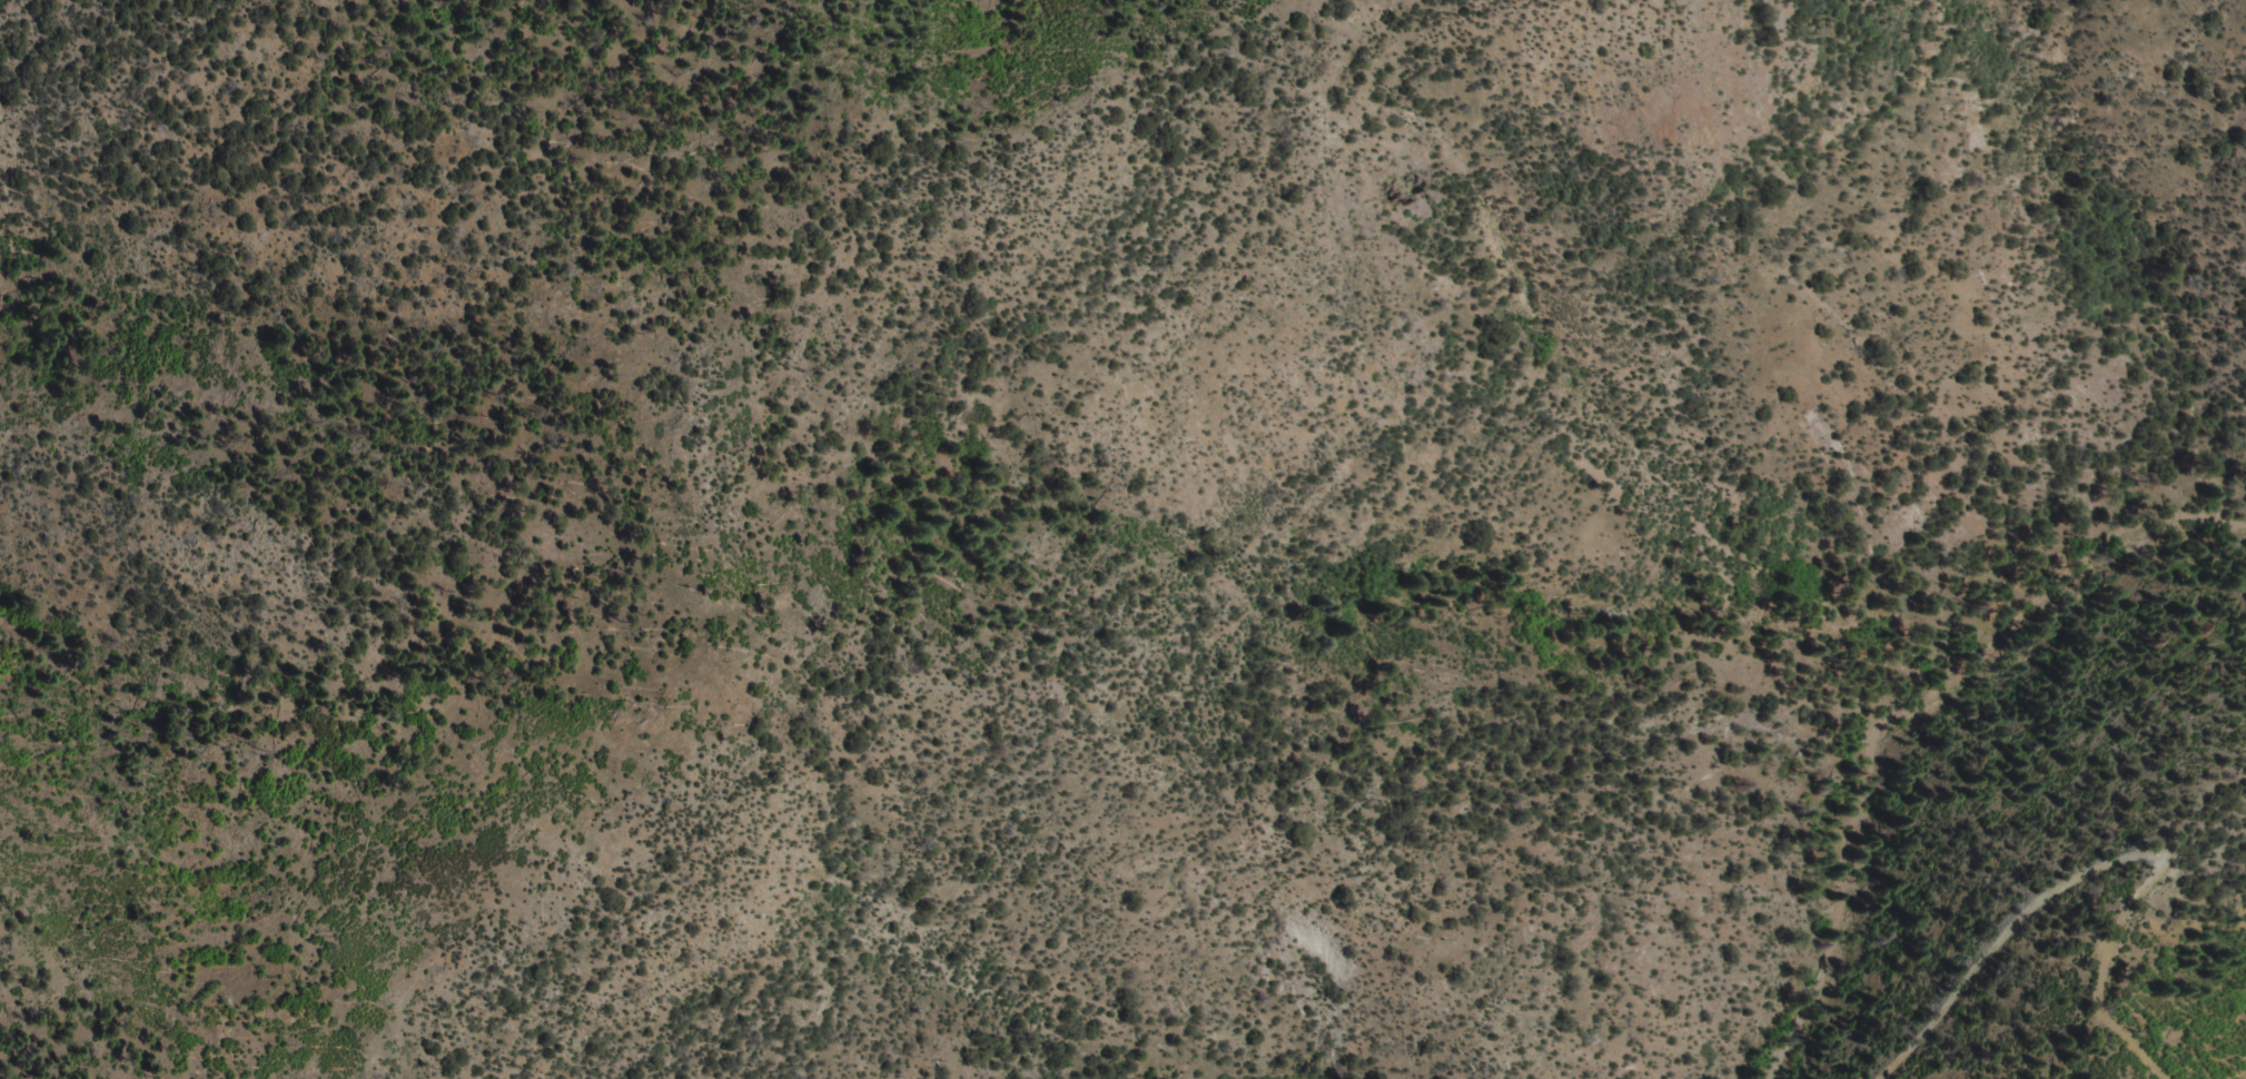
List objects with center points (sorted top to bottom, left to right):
road: (1898, 709)

